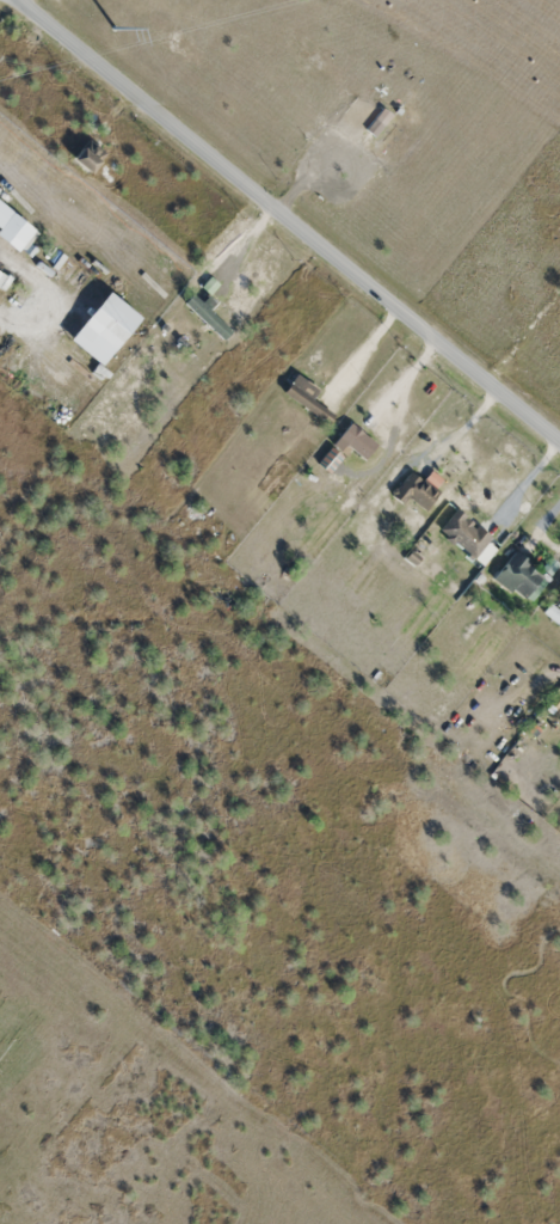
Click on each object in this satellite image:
power tower: (113, 23)
building: (82, 160)
road: (288, 220)
building: (205, 317)
building: (304, 397)
building: (355, 441)
building: (412, 491)
building: (463, 533)
building: (517, 575)
building: (552, 614)

